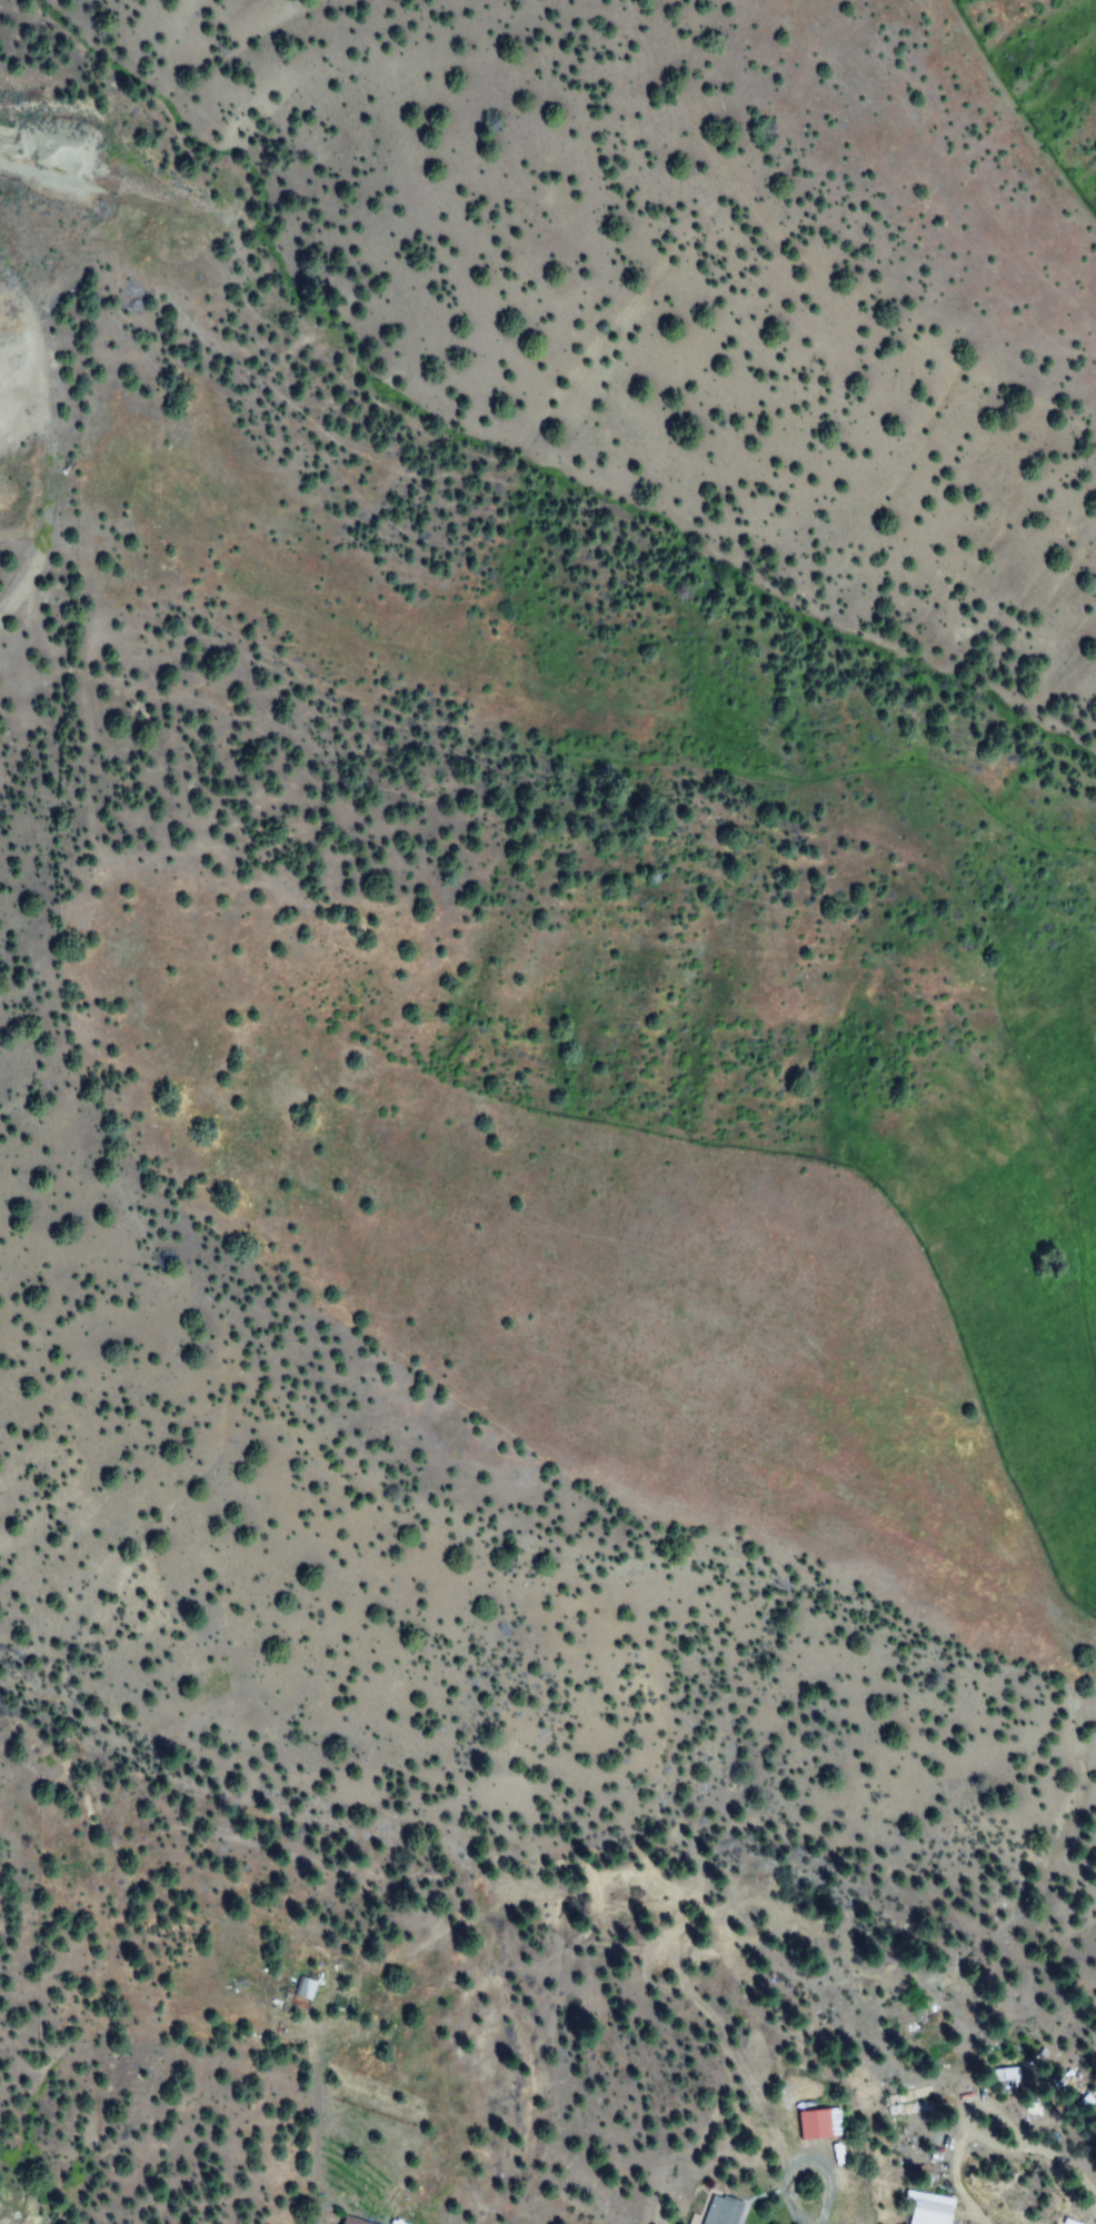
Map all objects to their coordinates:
building: (810, 2123)
road: (1080, 2175)
building: (930, 2208)
building: (720, 2211)
road: (977, 2216)
building: (350, 2221)

